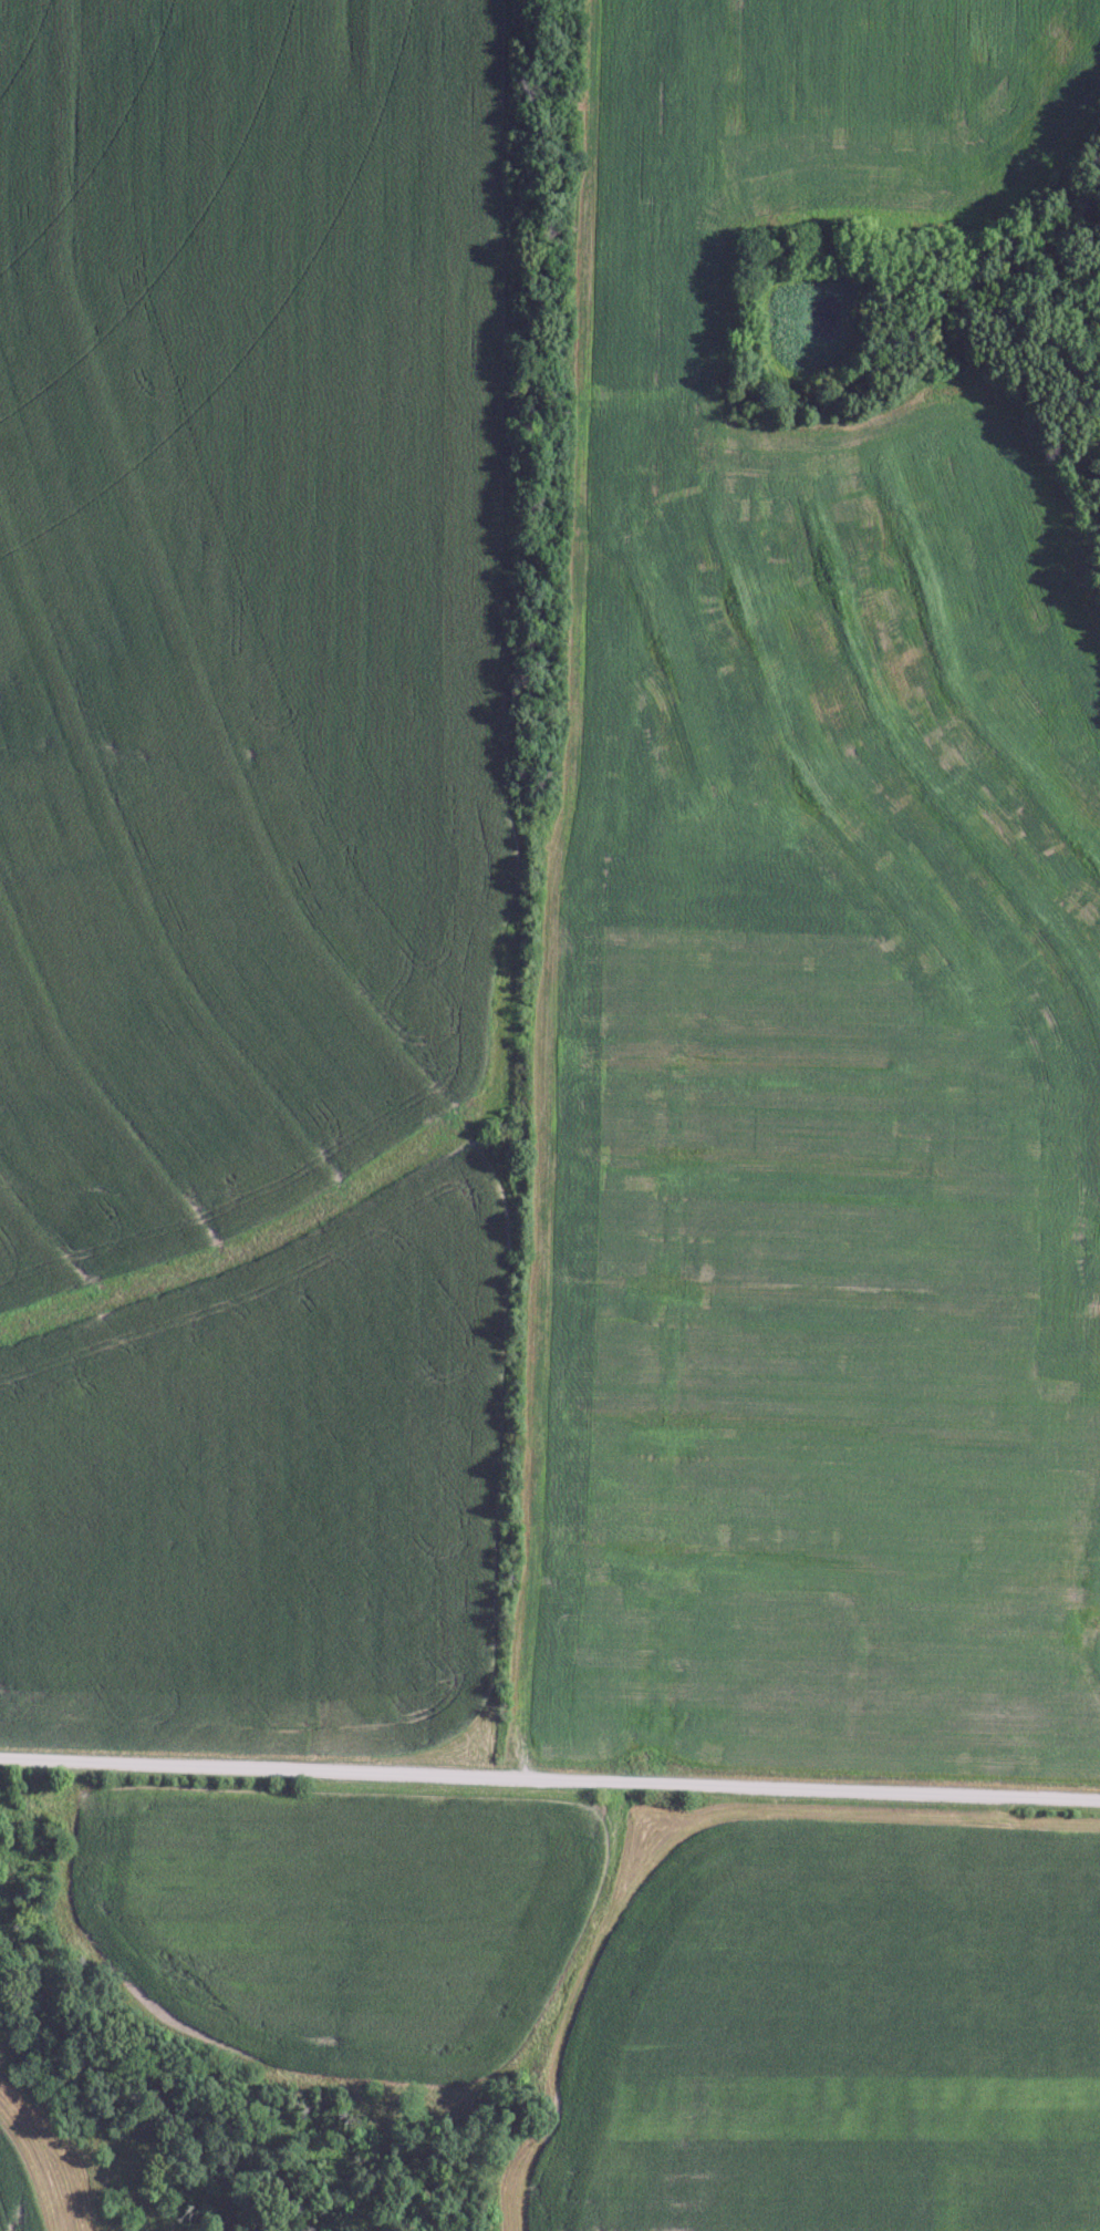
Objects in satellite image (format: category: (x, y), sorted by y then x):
road: (549, 1778)

